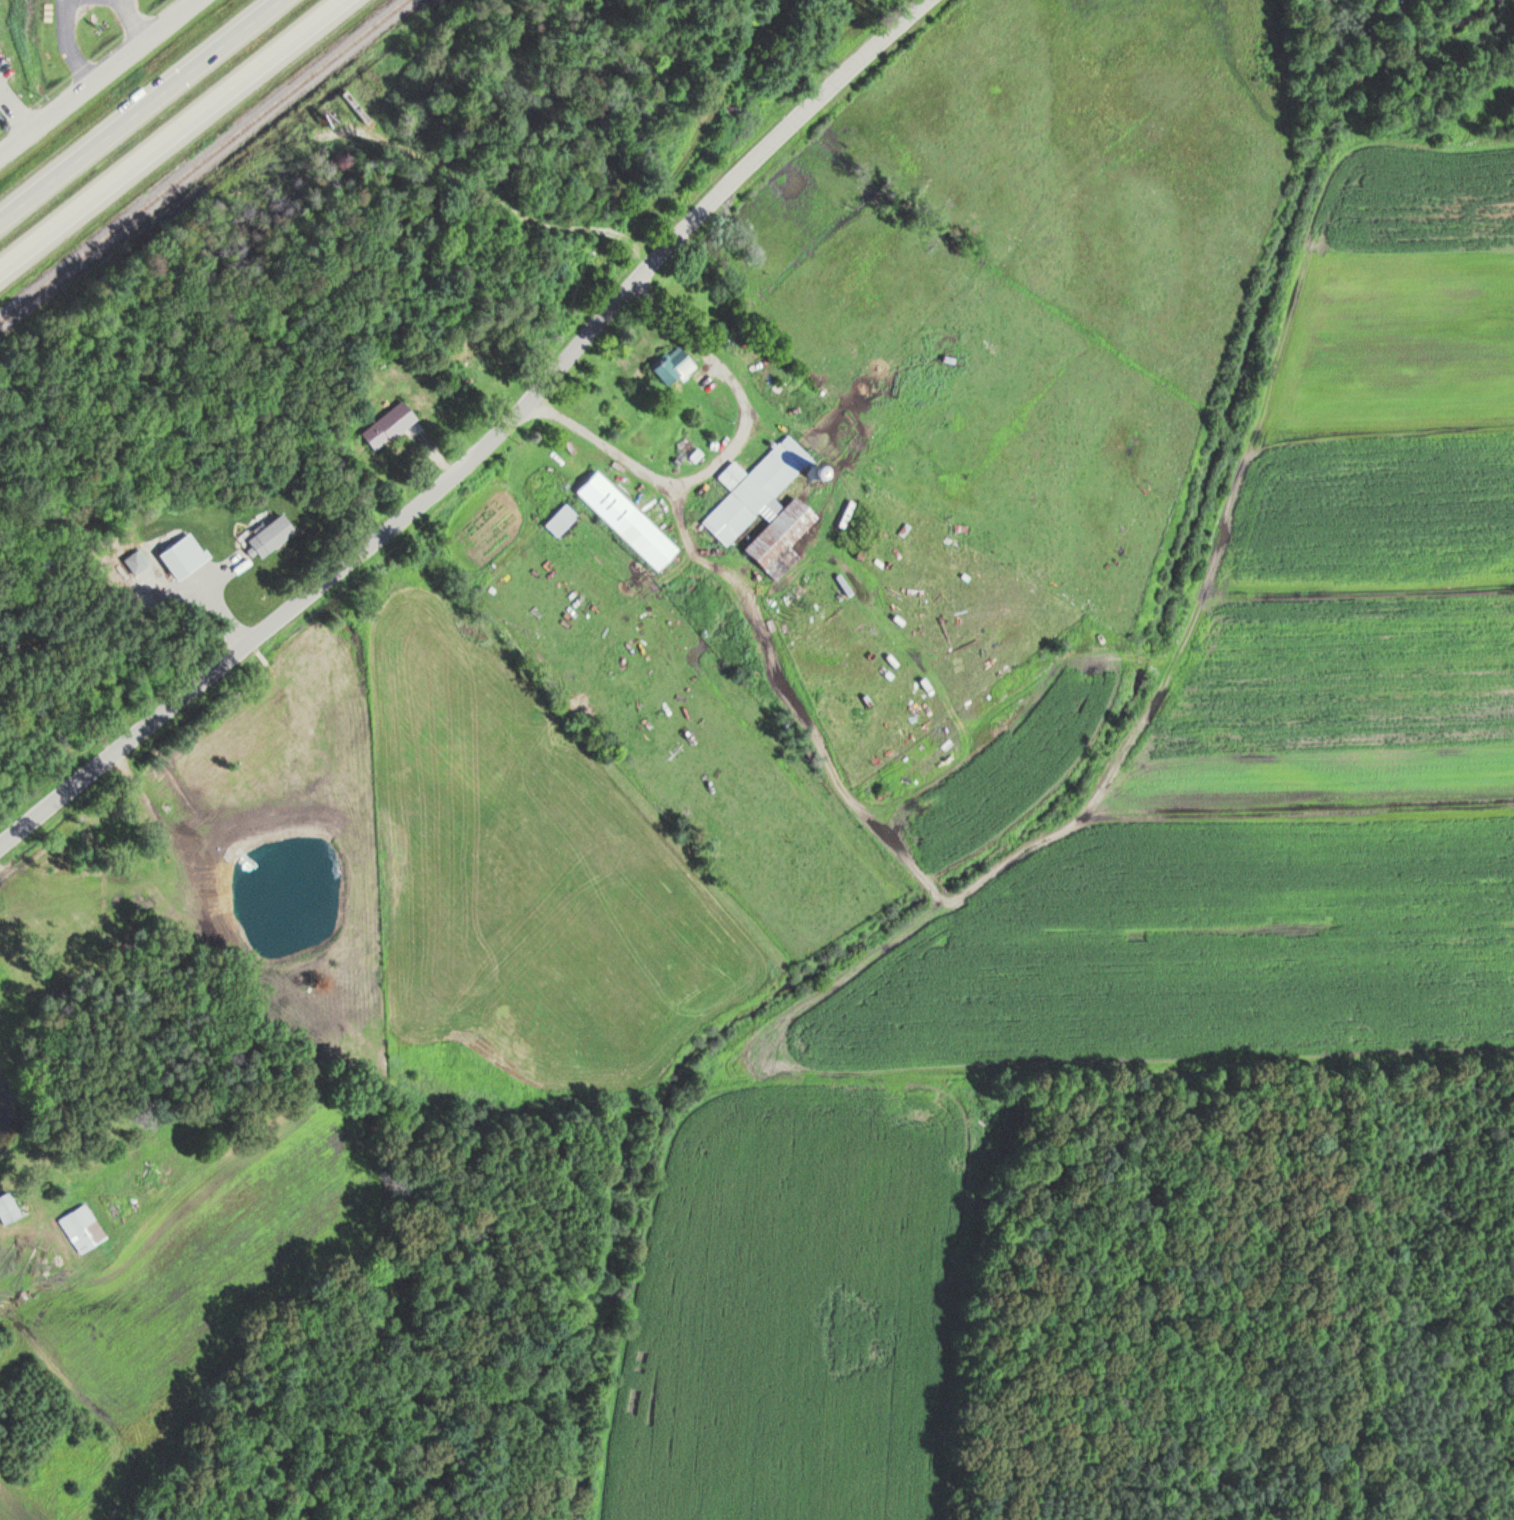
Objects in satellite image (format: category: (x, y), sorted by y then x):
road: (95, 75)
road: (138, 109)
road: (171, 135)
railway: (202, 159)
building: (93, 193)
building: (670, 365)
building: (387, 425)
road: (485, 445)
building: (751, 489)
building: (559, 518)
building: (624, 519)
building: (778, 533)
building: (268, 535)
building: (174, 558)
building: (7, 1208)
building: (76, 1226)

